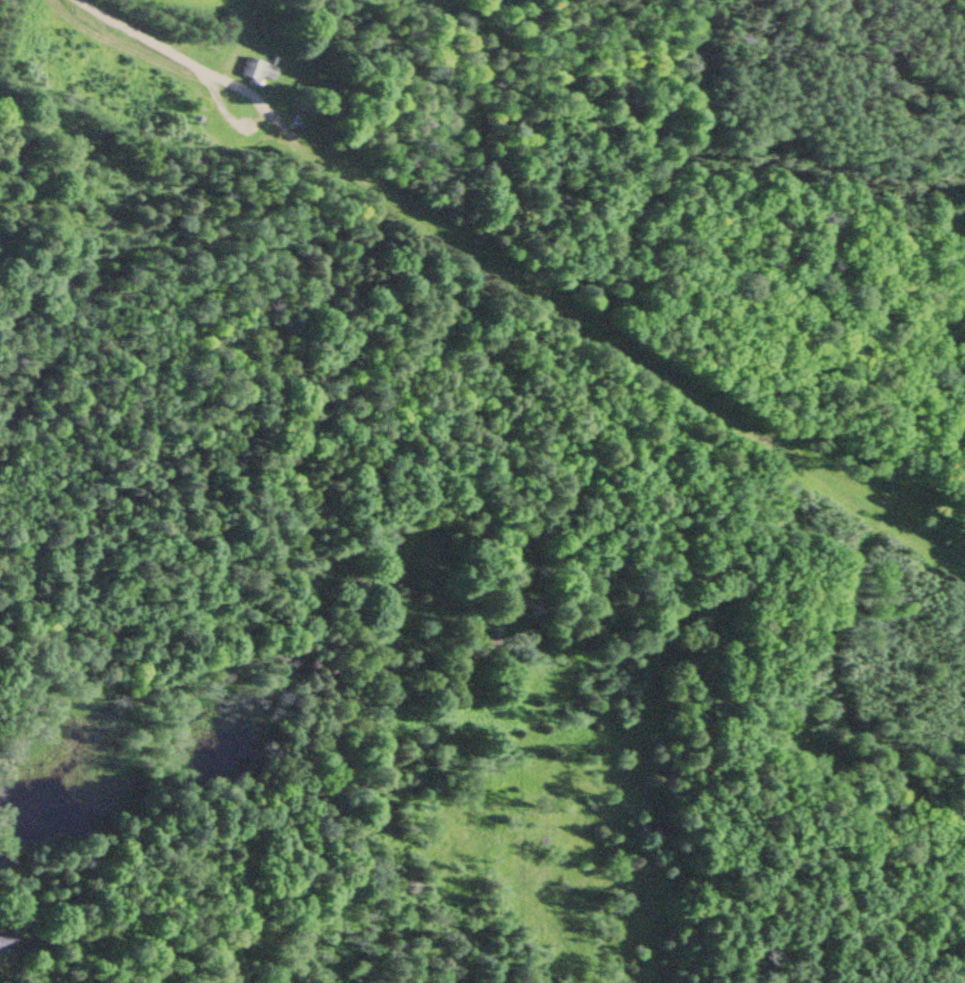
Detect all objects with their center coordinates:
road: (167, 52)
building: (258, 71)
building: (5, 942)

